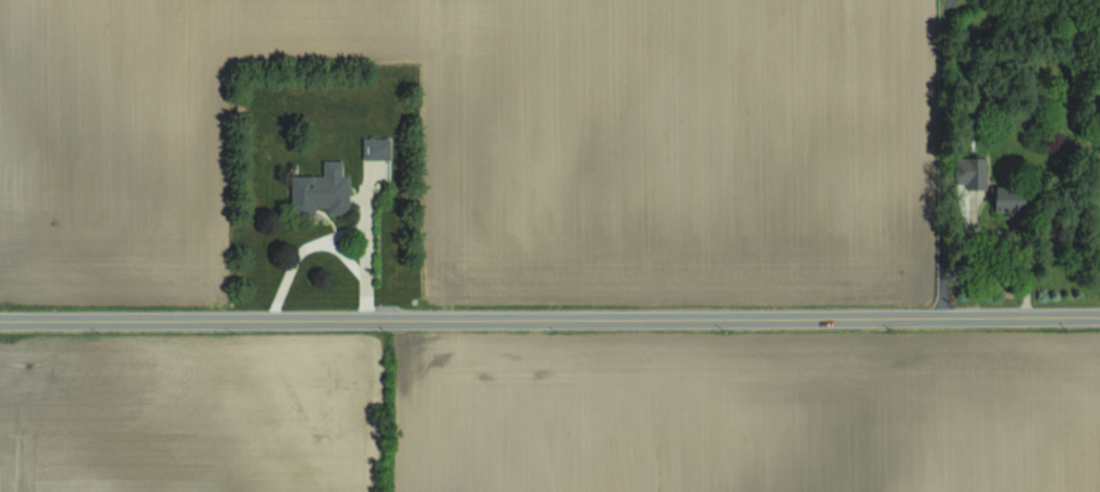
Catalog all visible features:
road: (939, 159)
road: (323, 238)
road: (549, 319)

